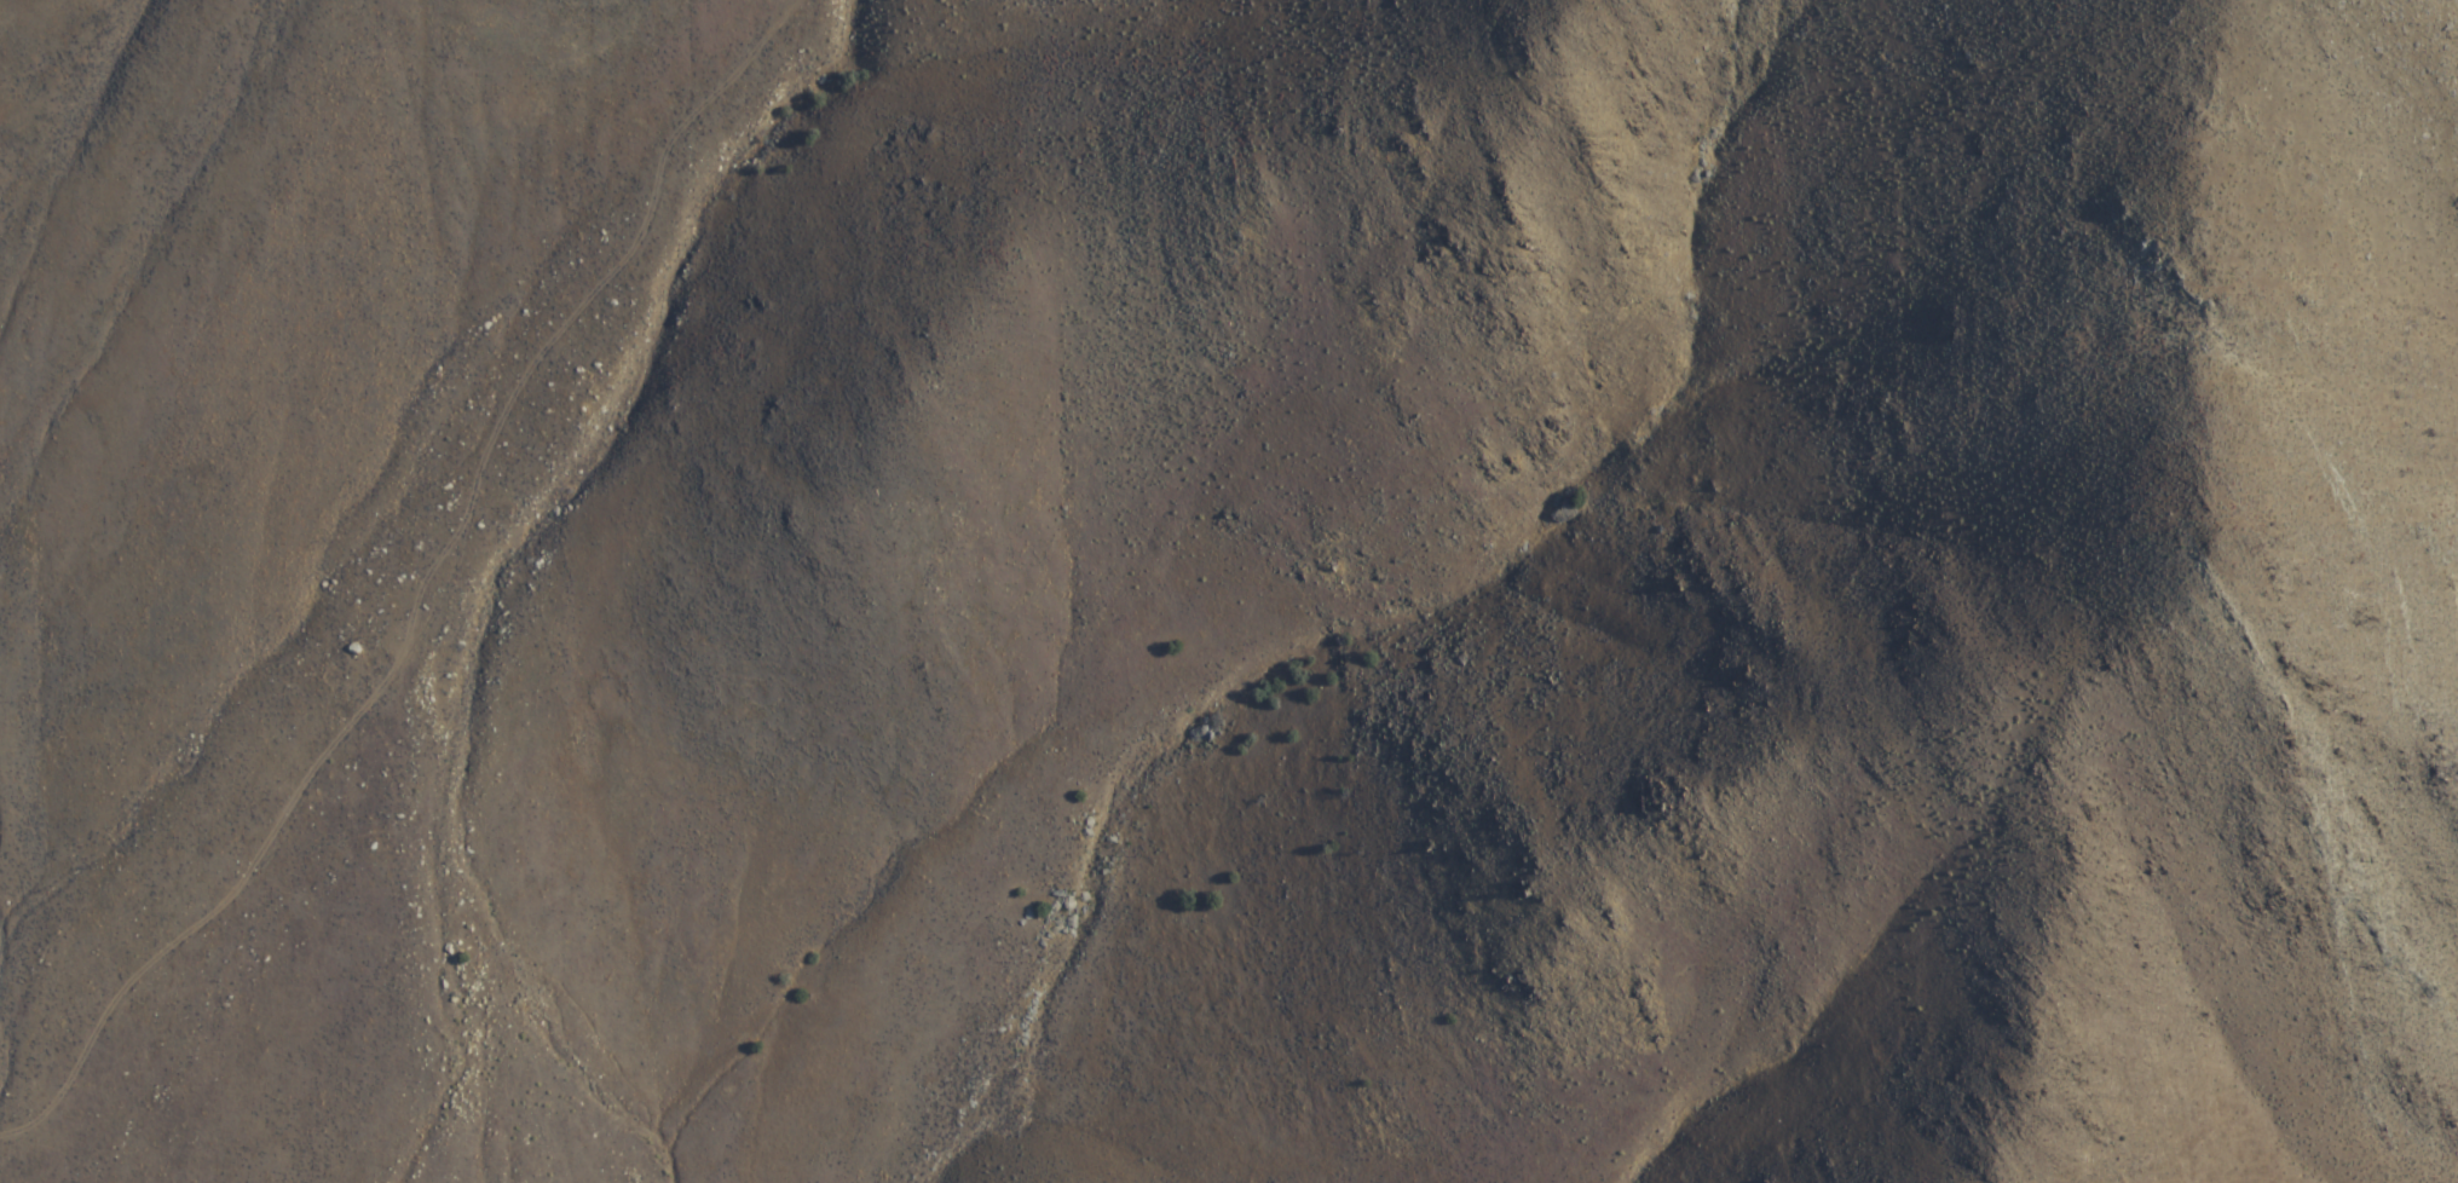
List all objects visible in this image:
road: (393, 676)

